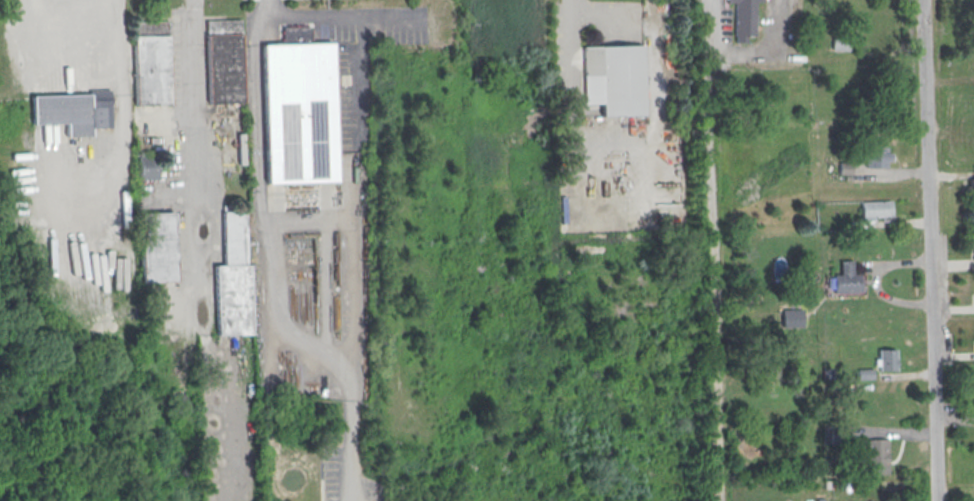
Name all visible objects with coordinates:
road: (343, 16)
road: (576, 18)
building: (744, 19)
road: (54, 36)
road: (745, 54)
building: (223, 62)
building: (151, 65)
road: (353, 76)
building: (614, 80)
road: (117, 110)
building: (73, 112)
building: (298, 114)
road: (194, 139)
building: (875, 158)
building: (147, 168)
building: (971, 189)
building: (876, 210)
building: (156, 246)
road: (709, 250)
road: (928, 250)
building: (973, 253)
road: (348, 256)
road: (276, 261)
building: (232, 278)
building: (845, 280)
building: (791, 318)
building: (886, 359)
building: (973, 404)
building: (877, 452)

